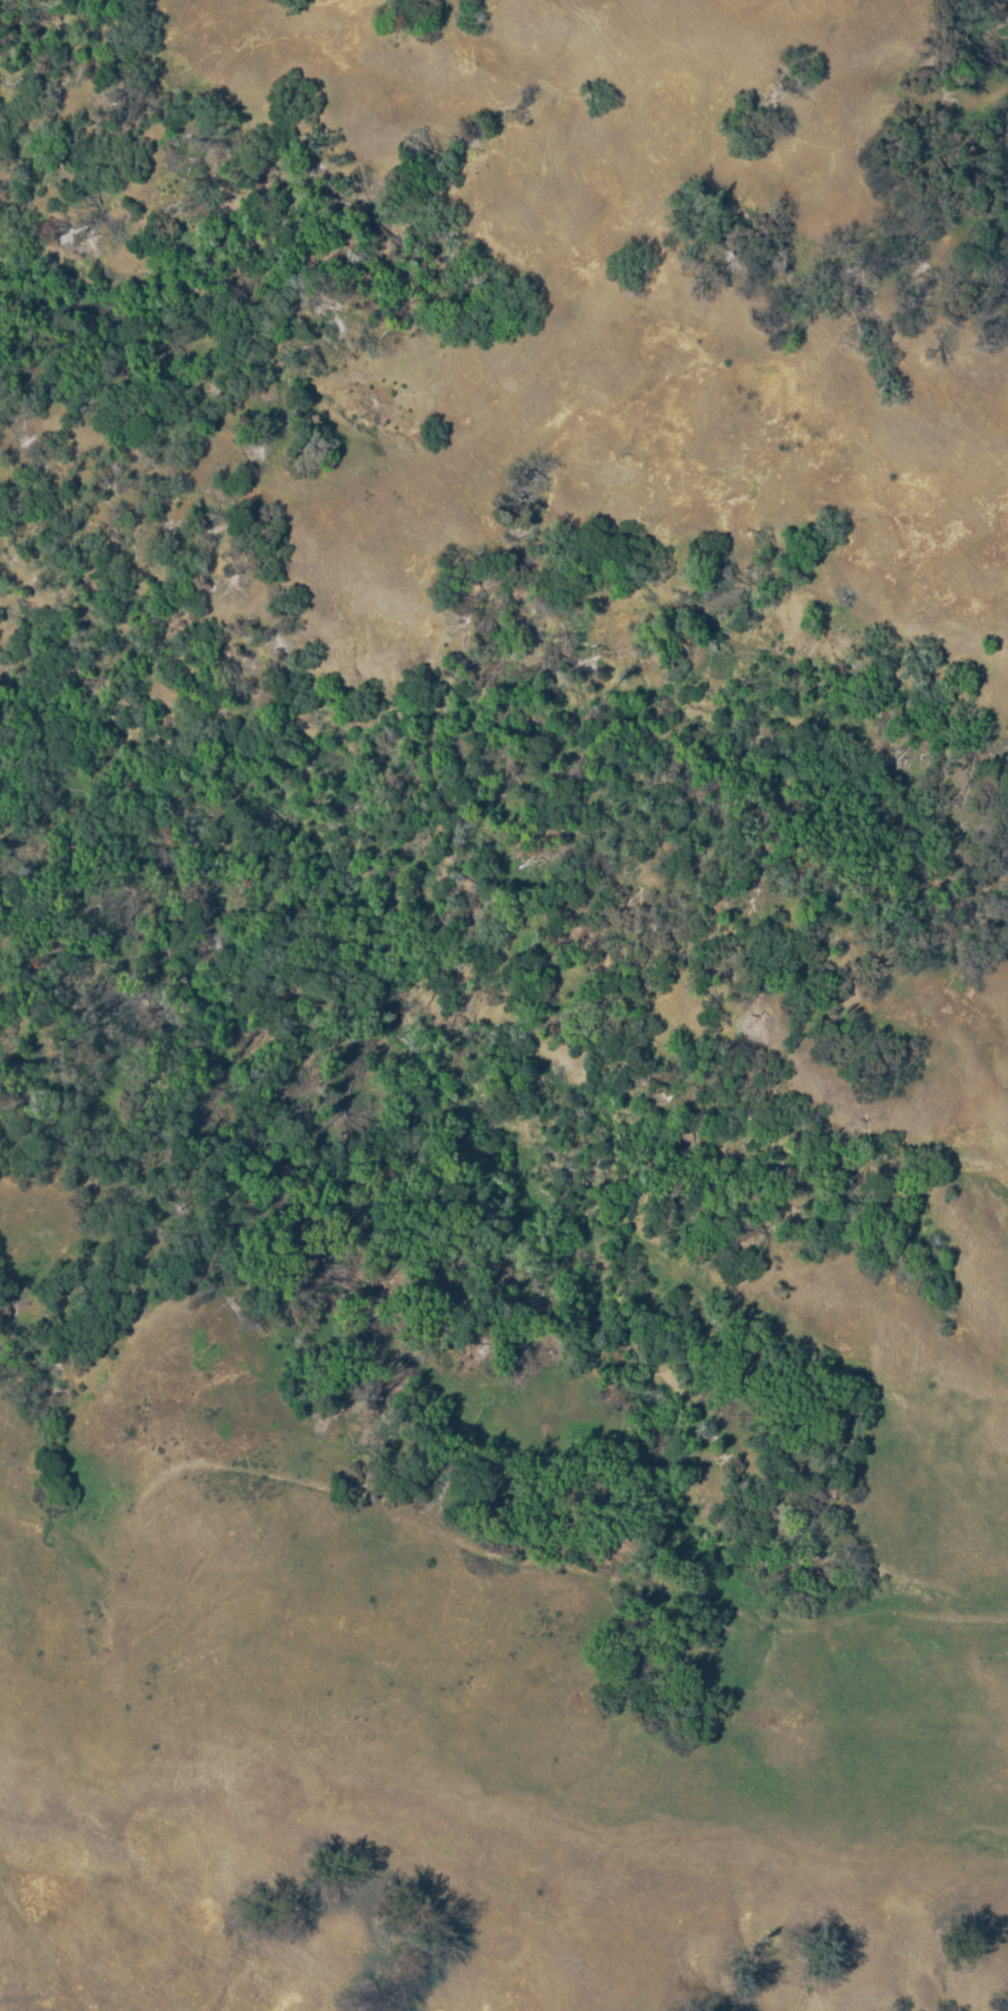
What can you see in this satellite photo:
road: (736, 1753)

